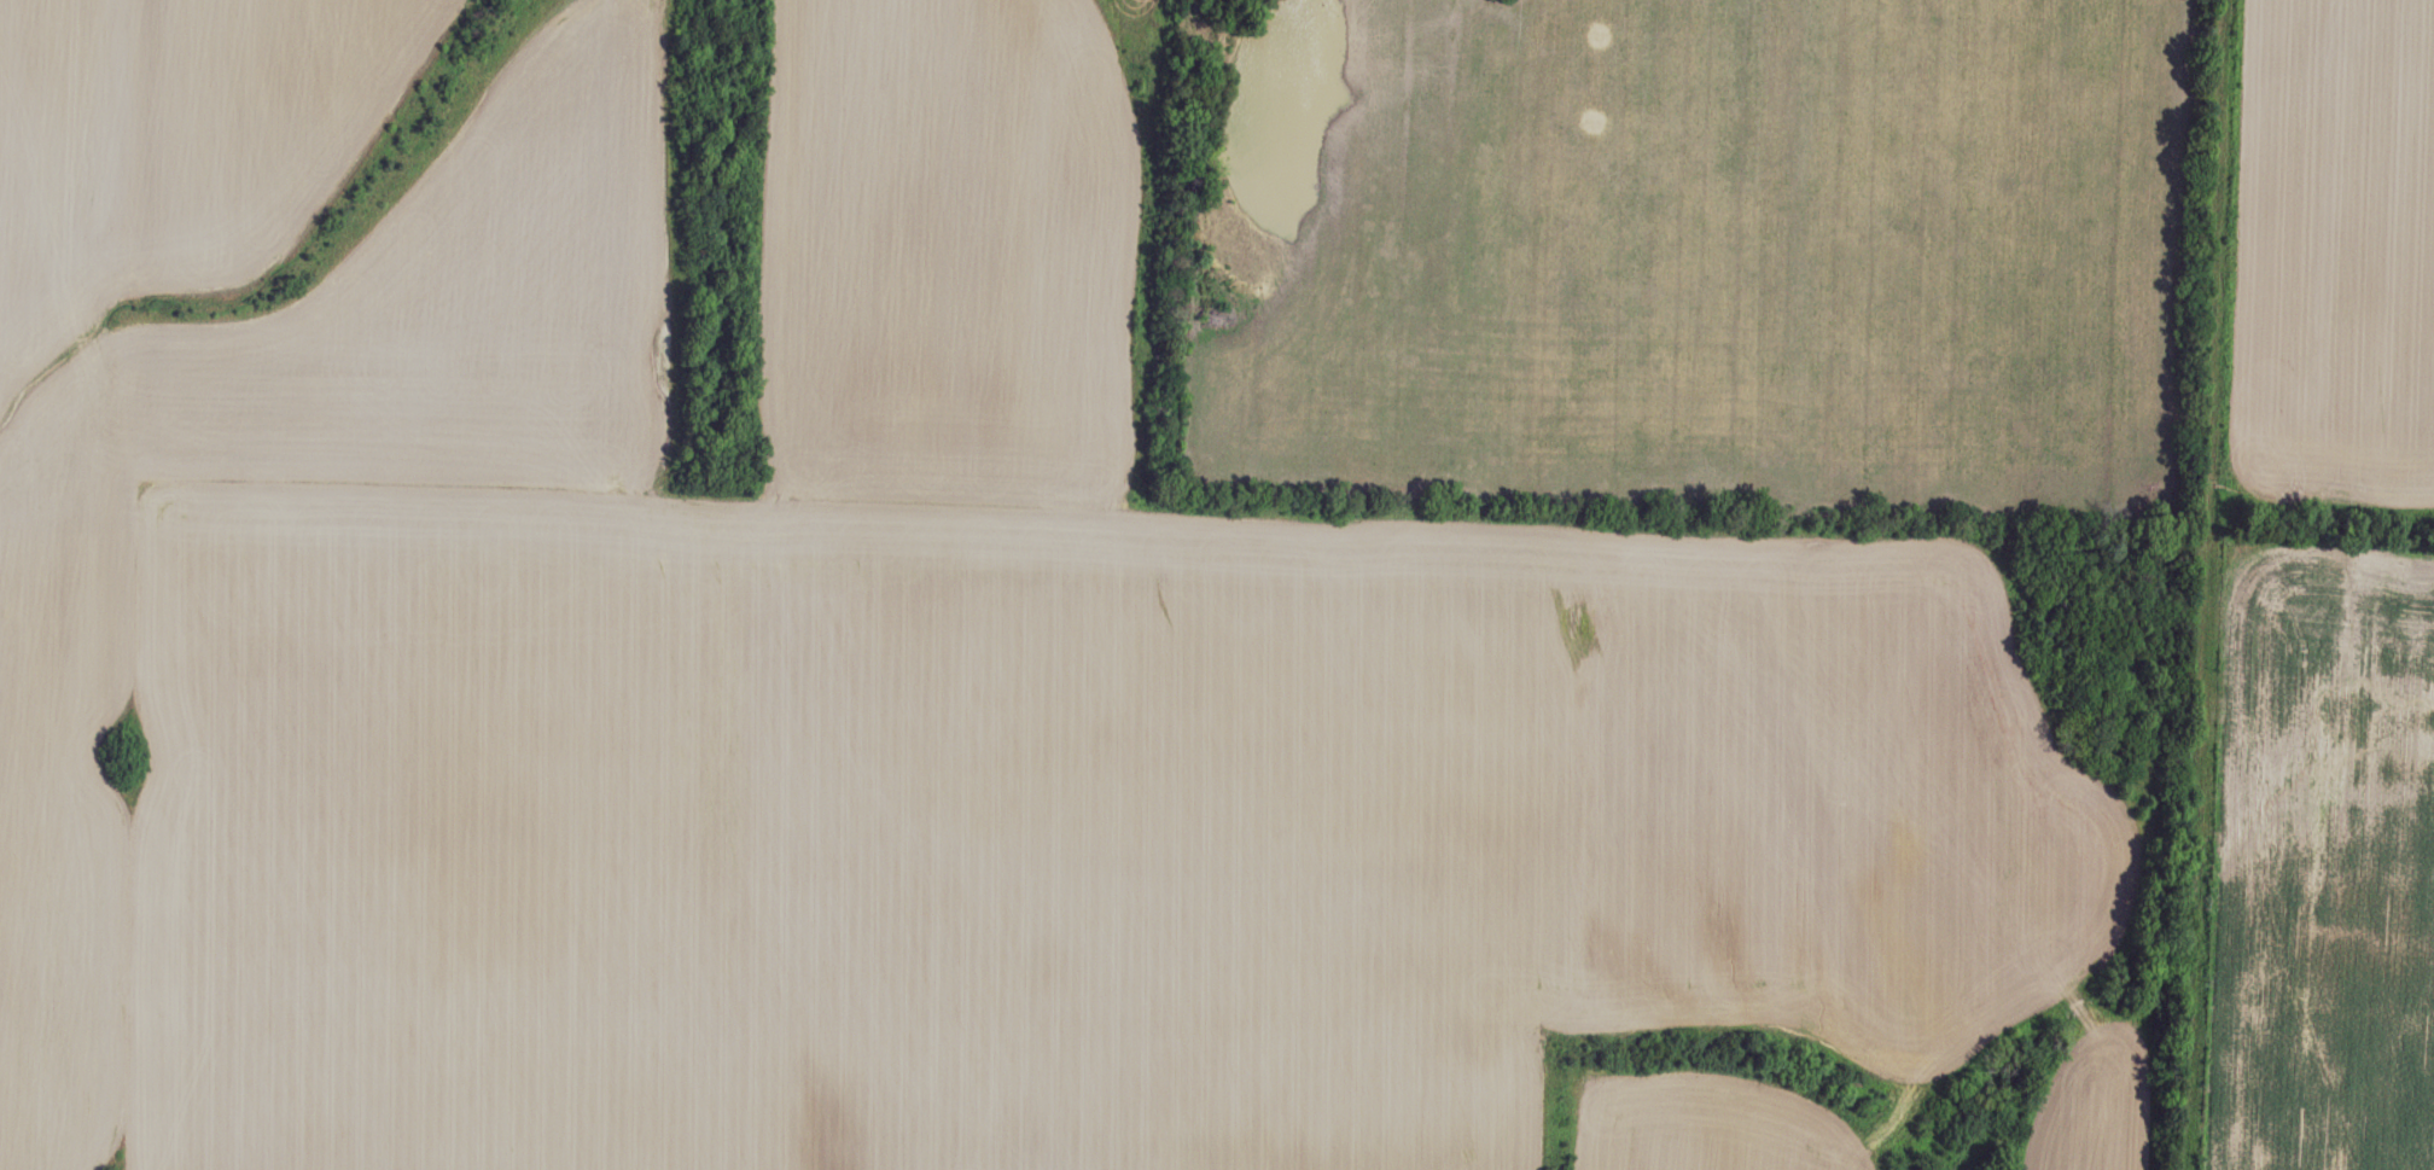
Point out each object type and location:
road: (2220, 356)

